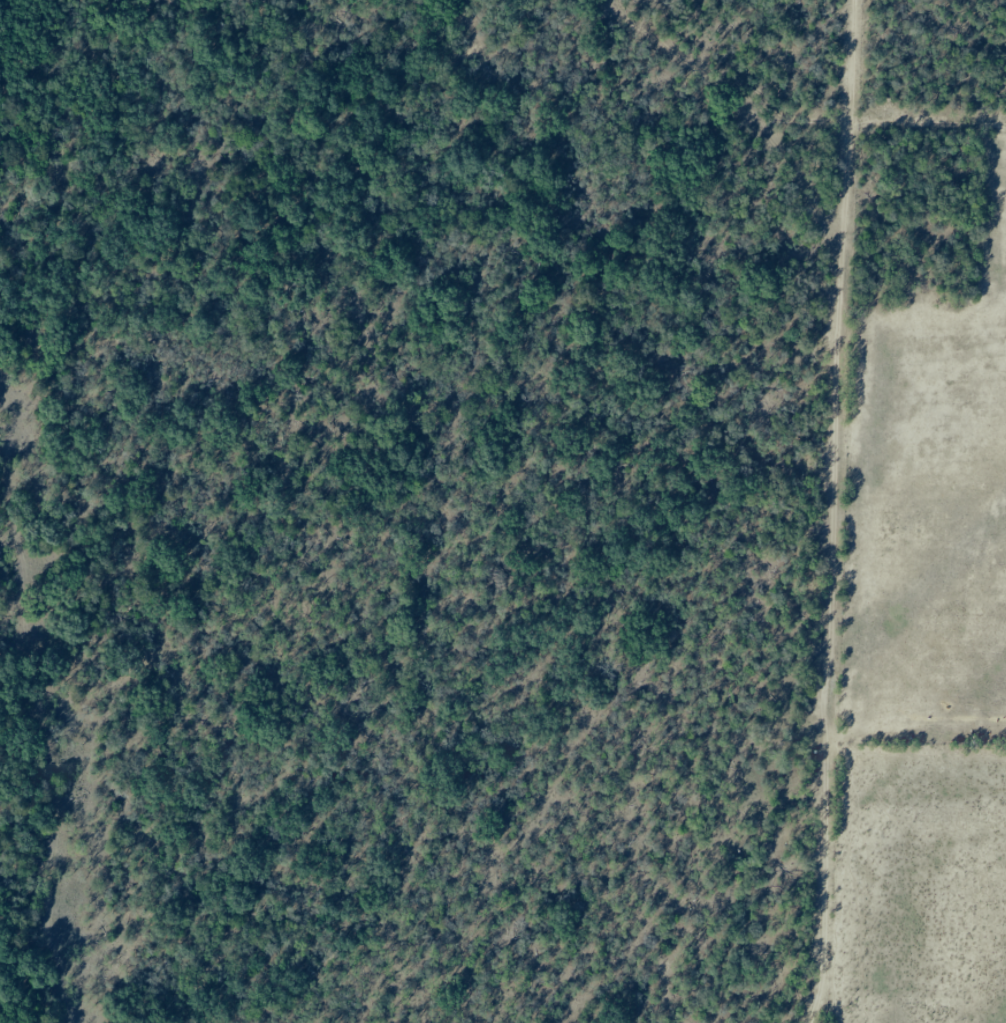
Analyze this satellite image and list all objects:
road: (833, 512)

